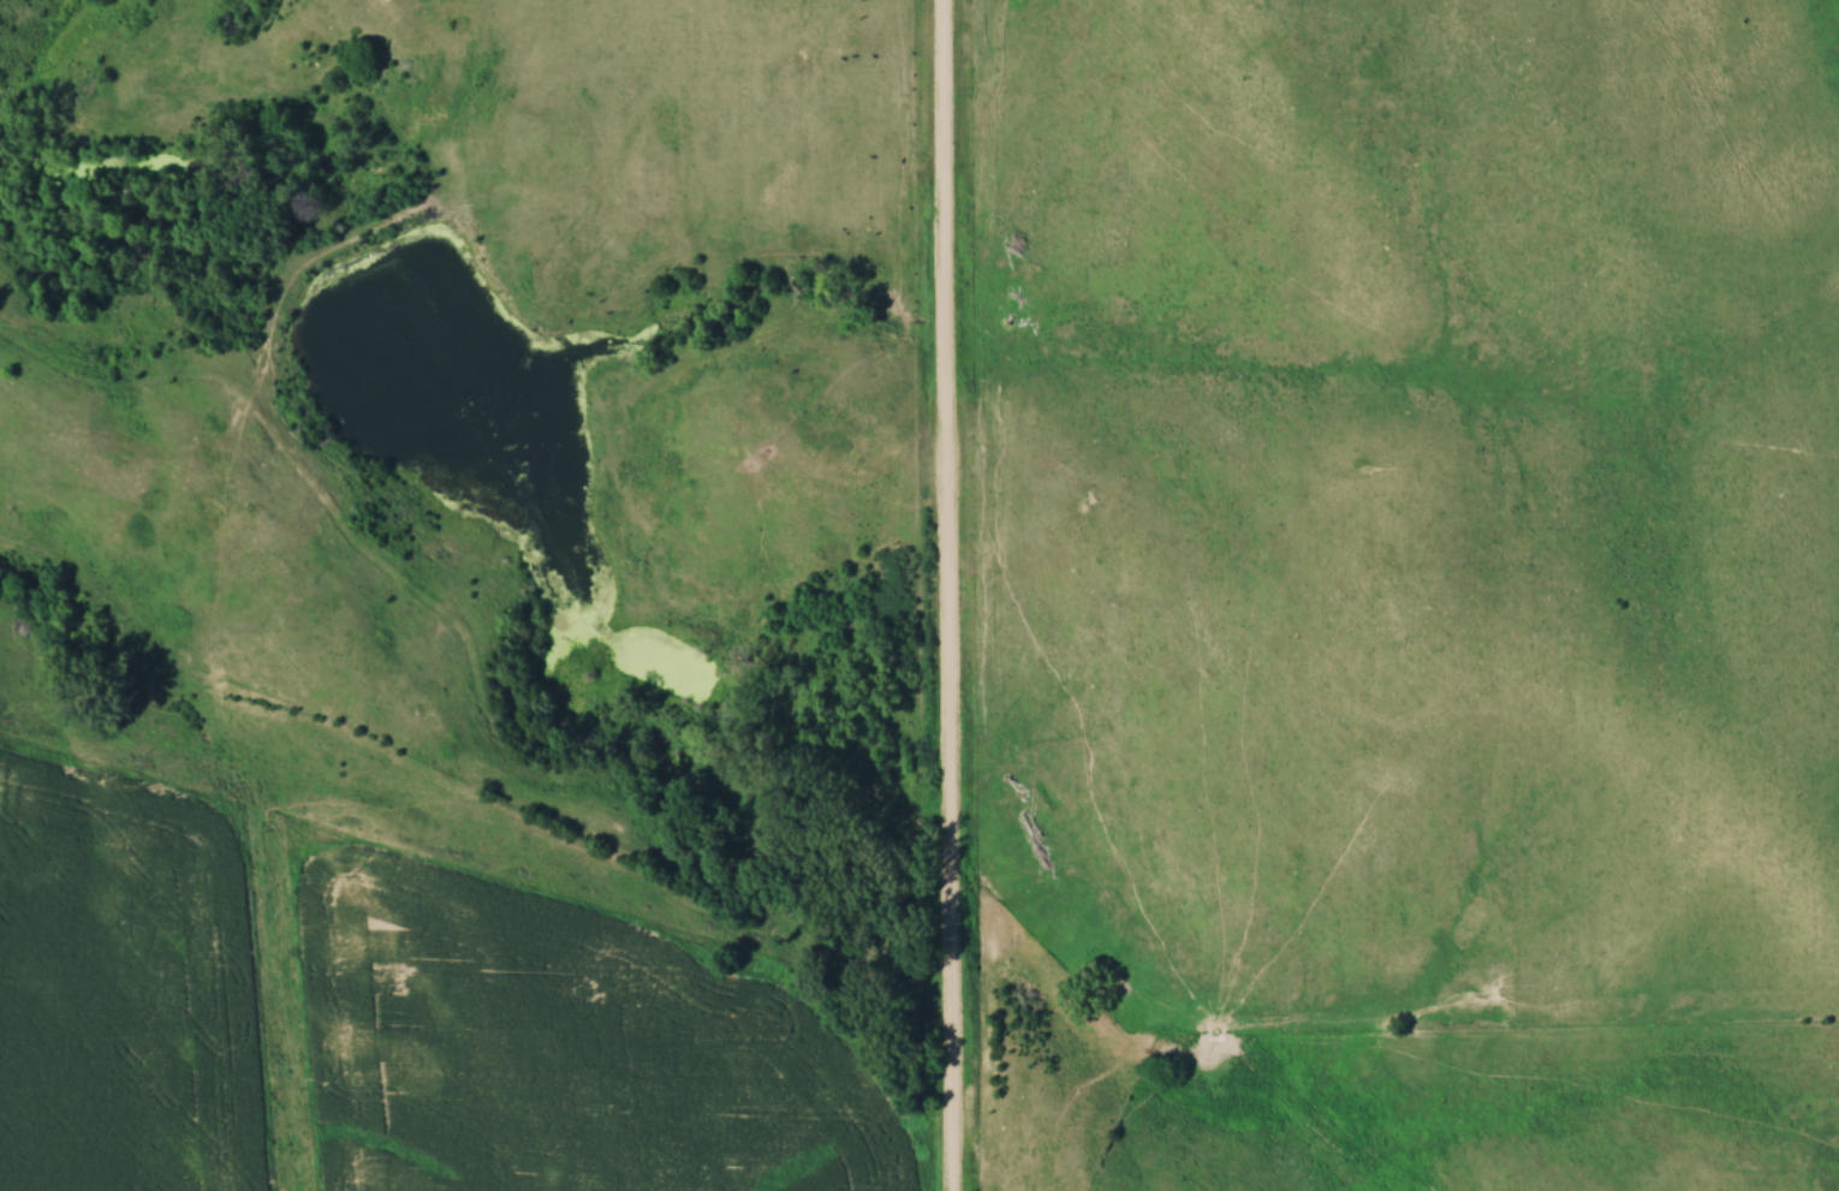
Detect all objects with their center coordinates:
road: (947, 595)

